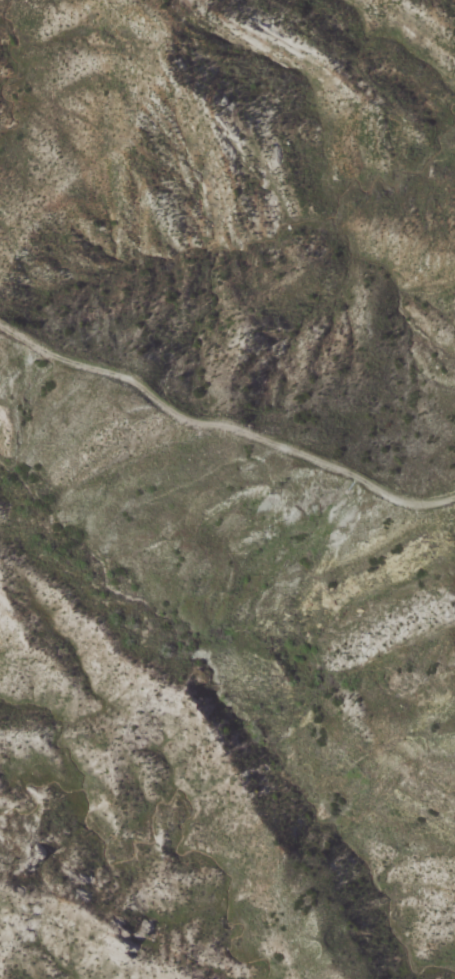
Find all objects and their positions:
road: (222, 427)

